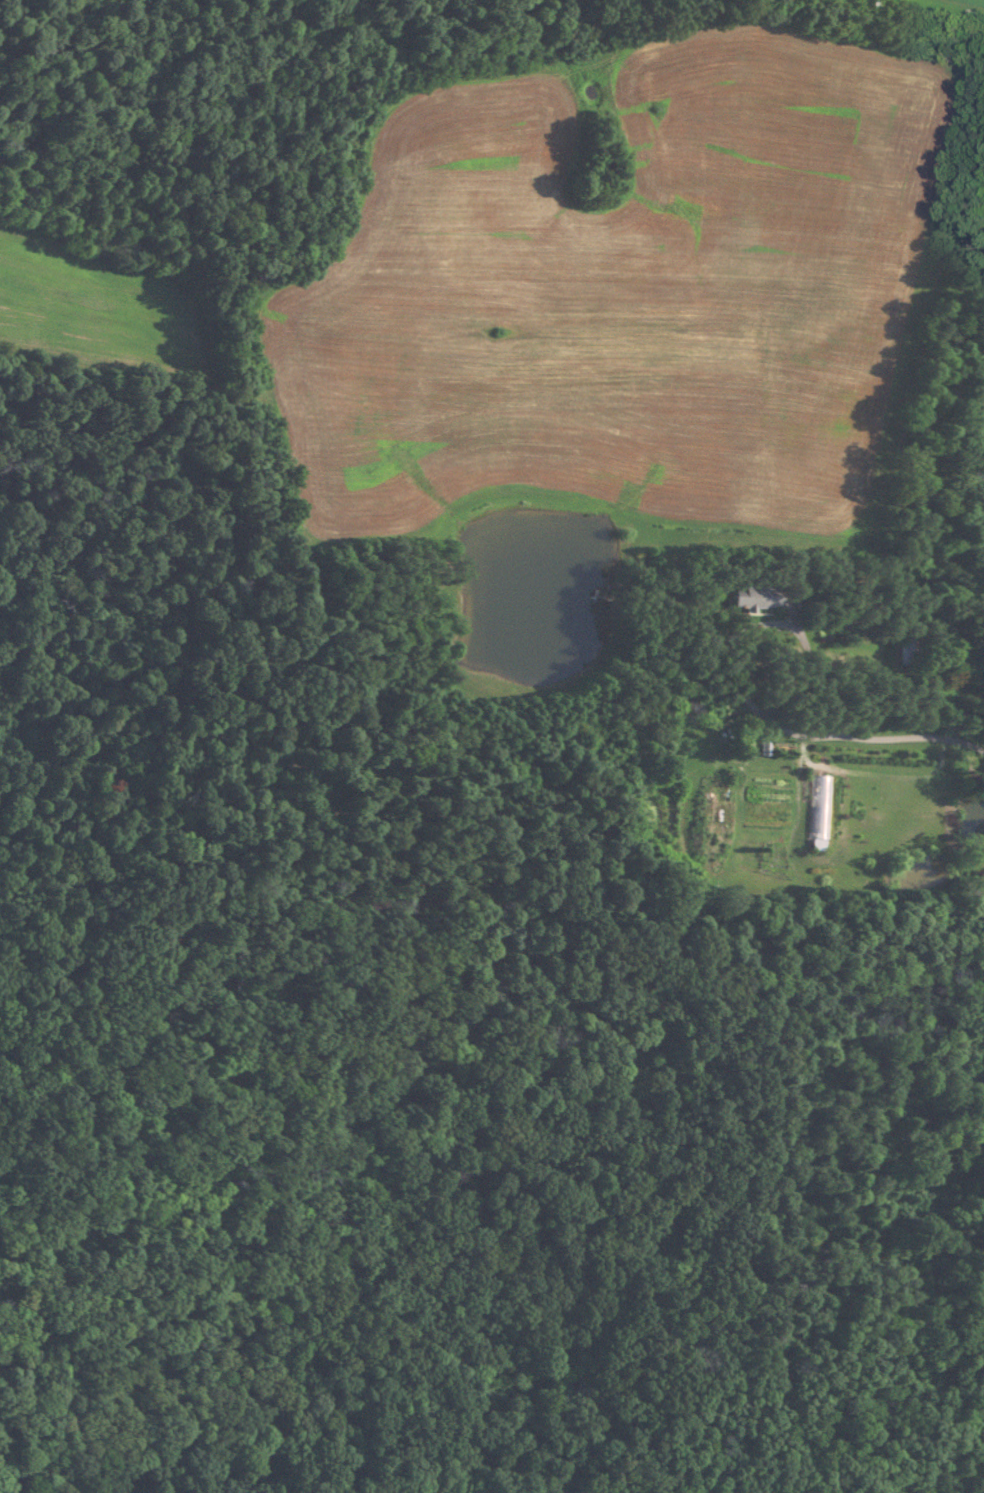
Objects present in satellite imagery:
building: (748, 596)
building: (902, 650)
building: (708, 810)
building: (814, 812)

